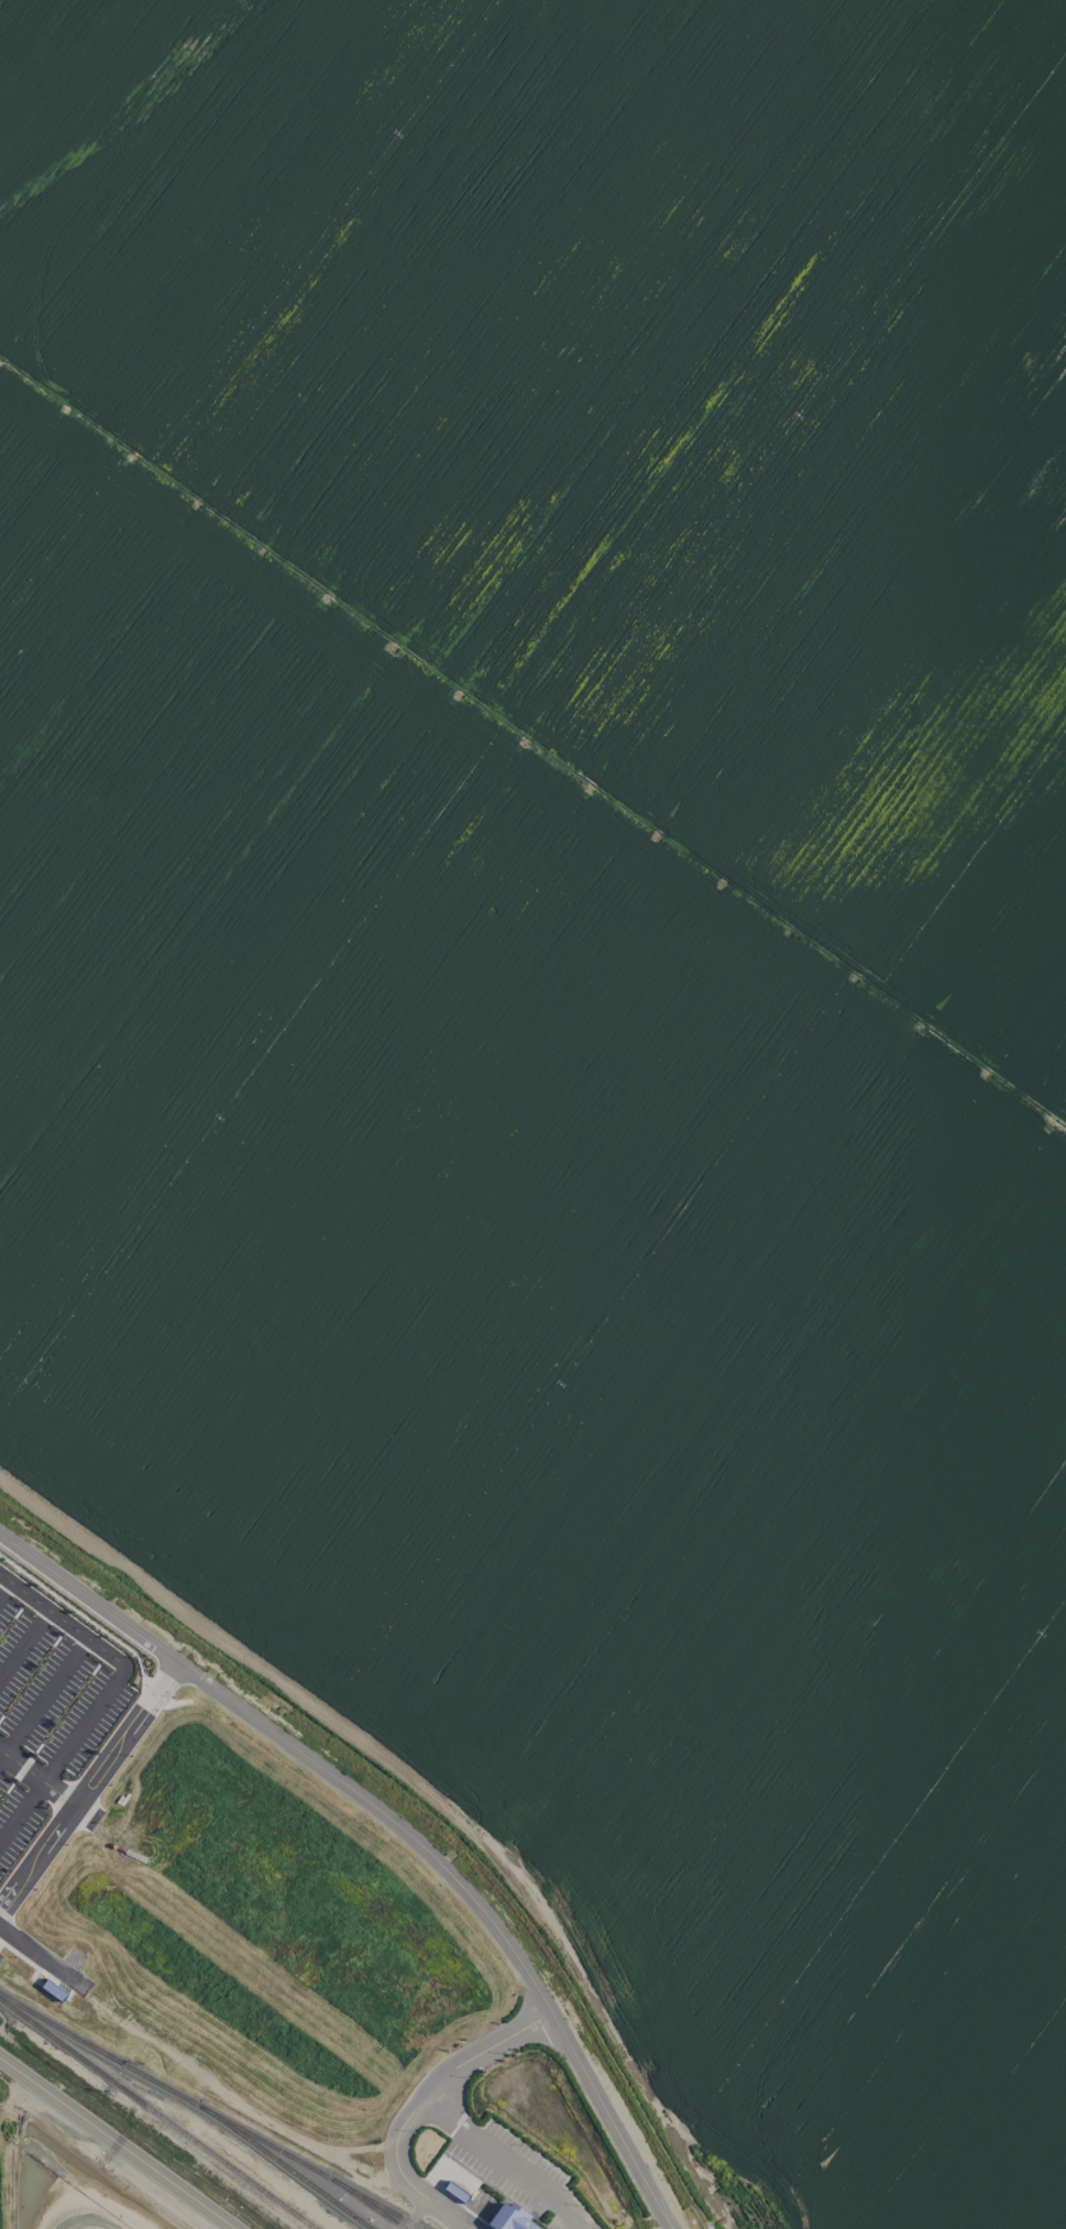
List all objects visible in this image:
road: (3, 1586)
road: (23, 1641)
road: (106, 1692)
road: (42, 1699)
parking lot: (45, 1720)
road: (37, 1778)
road: (88, 1786)
road: (395, 1824)
road: (44, 1957)
road: (414, 2106)
railway: (209, 2111)
railway: (157, 2113)
road: (116, 2144)
road: (502, 2159)
railway: (285, 2166)
wastewater plant: (74, 2189)
railway: (365, 2201)
building: (509, 2218)

